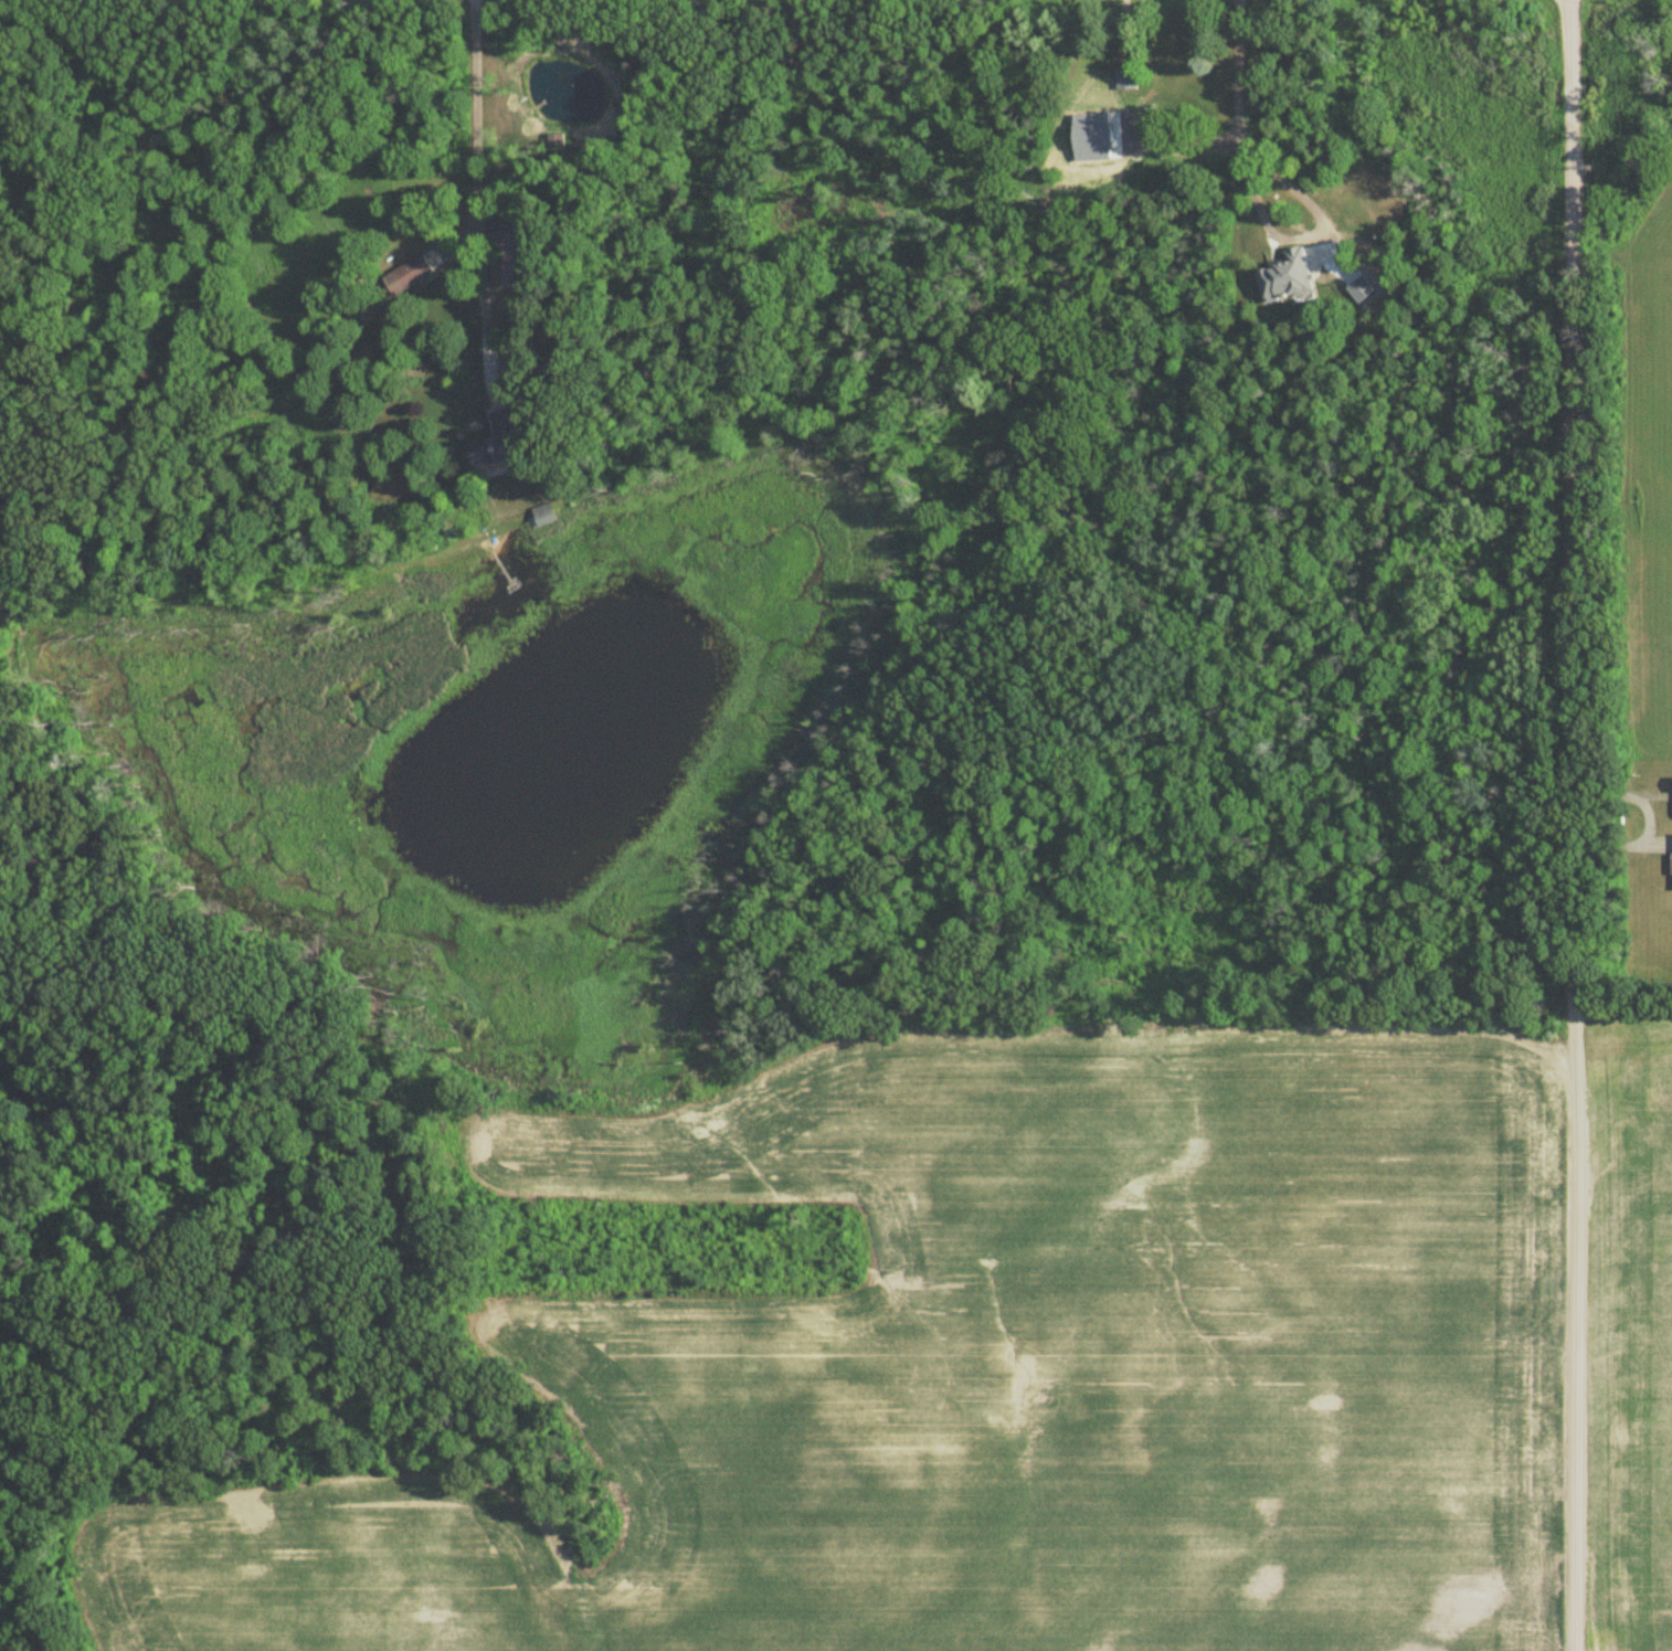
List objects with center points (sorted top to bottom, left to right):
building: (1186, 68)
road: (1234, 71)
building: (1128, 81)
road: (474, 183)
road: (1306, 232)
building: (510, 256)
building: (408, 276)
building: (500, 442)
building: (546, 516)
road: (1574, 825)

